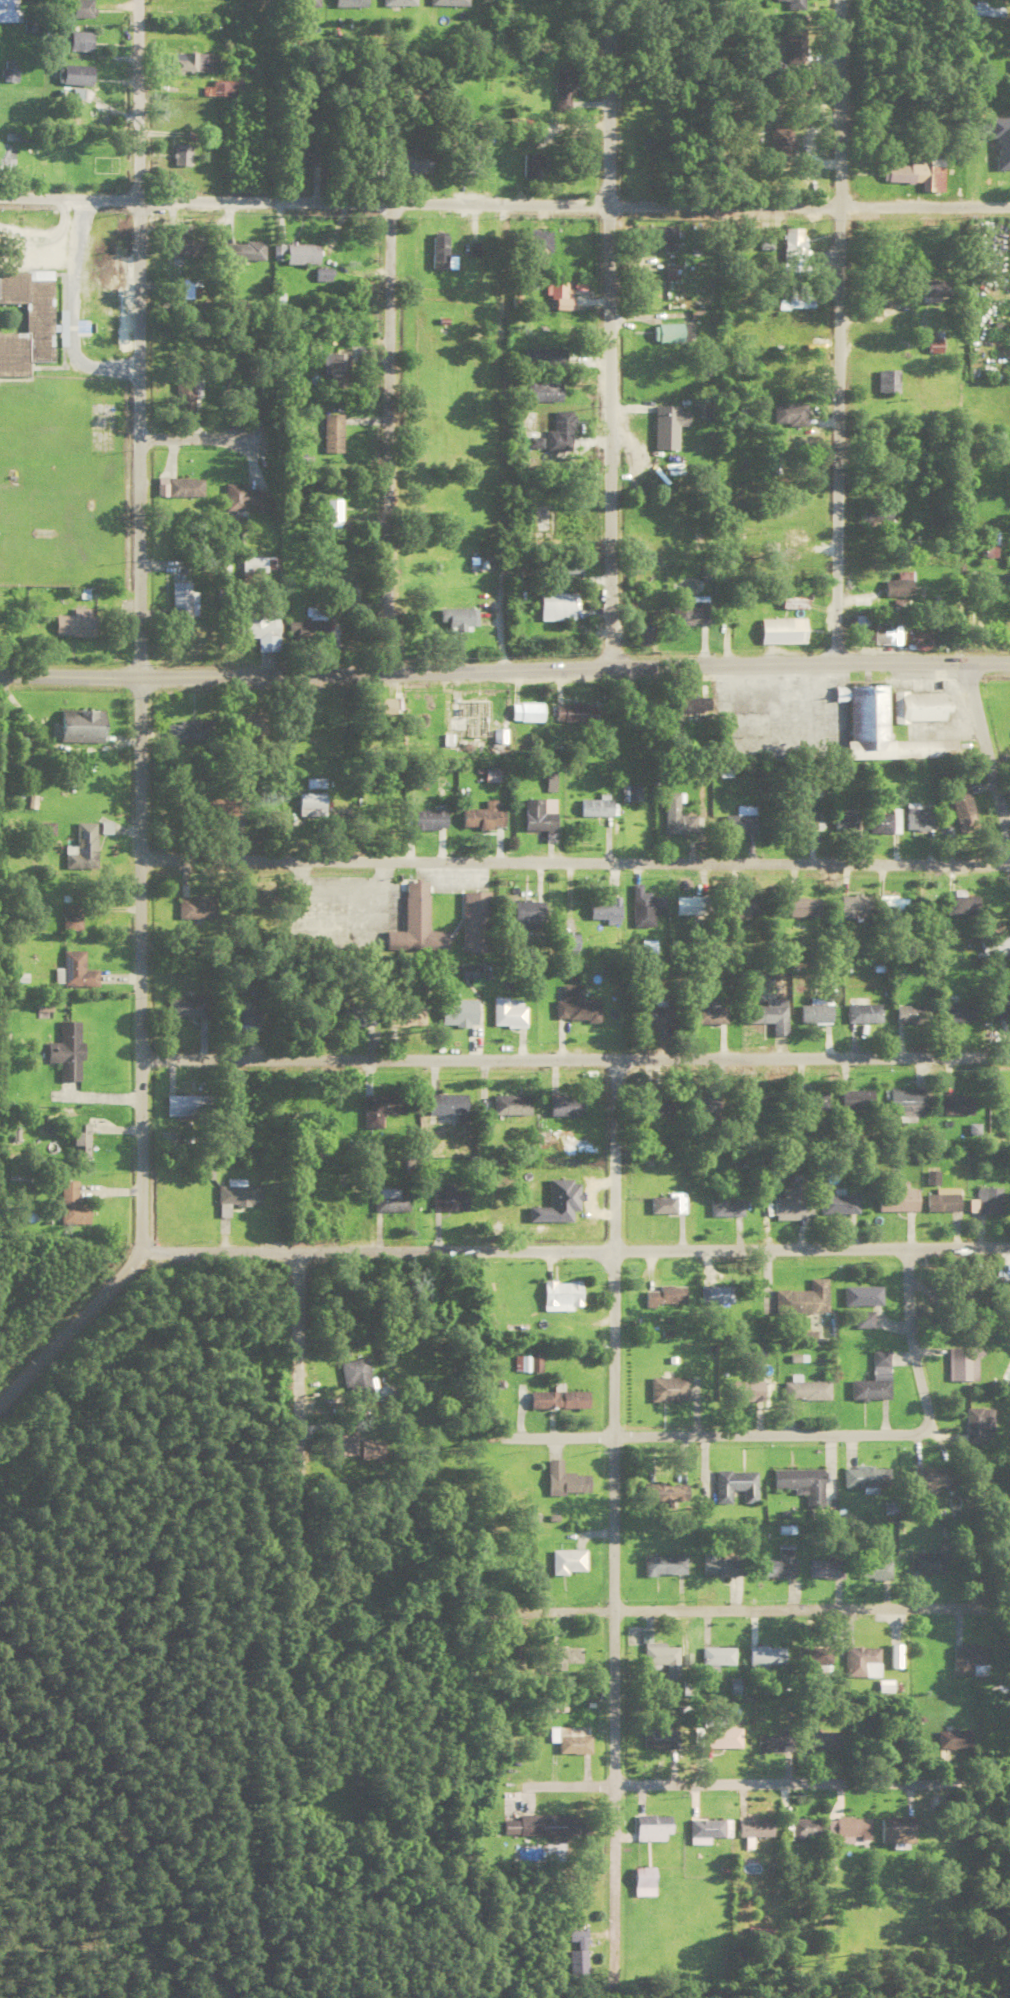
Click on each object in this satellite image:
road: (504, 201)
road: (838, 327)
road: (609, 330)
road: (724, 430)
road: (386, 432)
road: (499, 432)
road: (193, 435)
road: (504, 662)
road: (139, 729)
road: (987, 745)
road: (575, 856)
road: (574, 1053)
road: (577, 1247)
road: (907, 1338)
road: (300, 1413)
road: (716, 1429)
road: (613, 1506)
road: (752, 1603)
road: (751, 1777)

